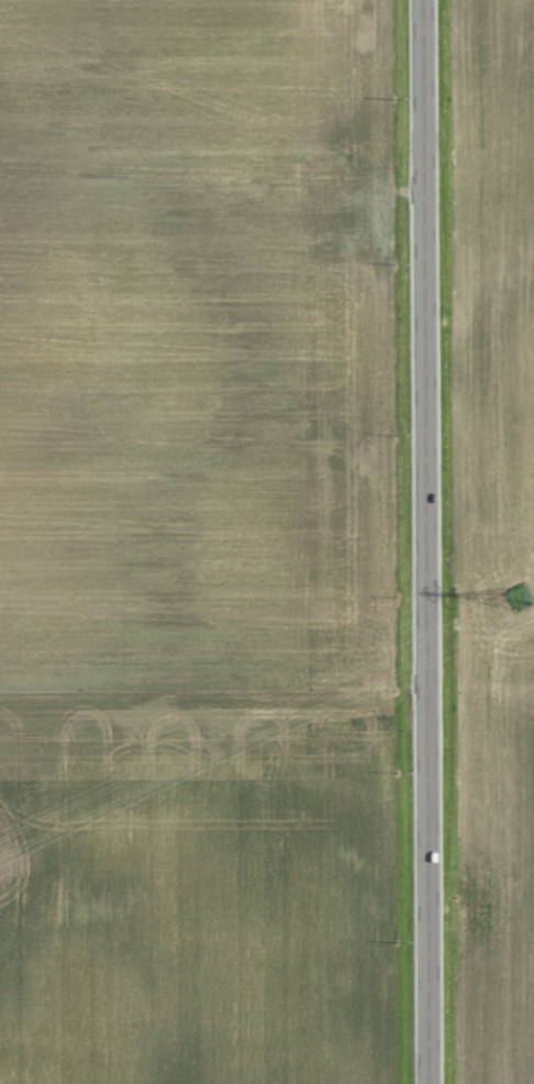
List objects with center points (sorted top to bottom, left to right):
road: (424, 541)
power tower: (518, 602)

